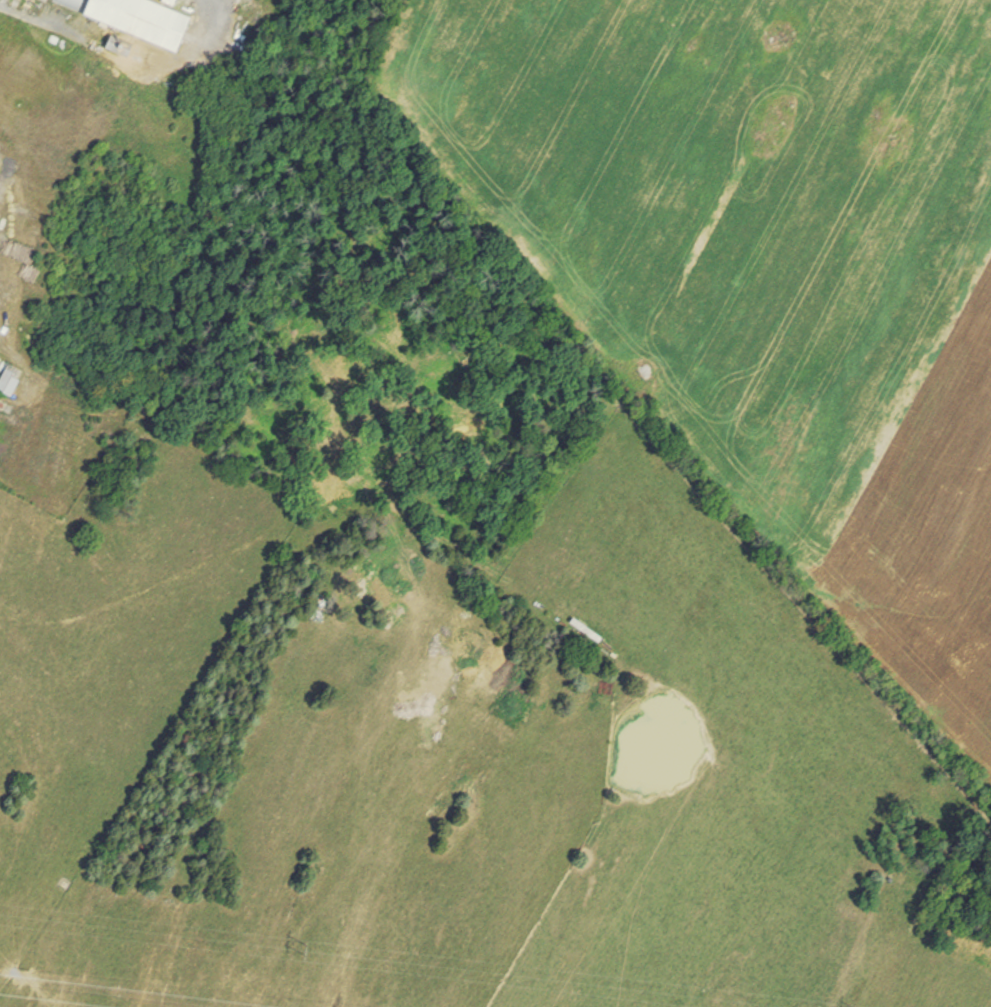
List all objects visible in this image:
road: (208, 14)
power tower: (292, 965)

